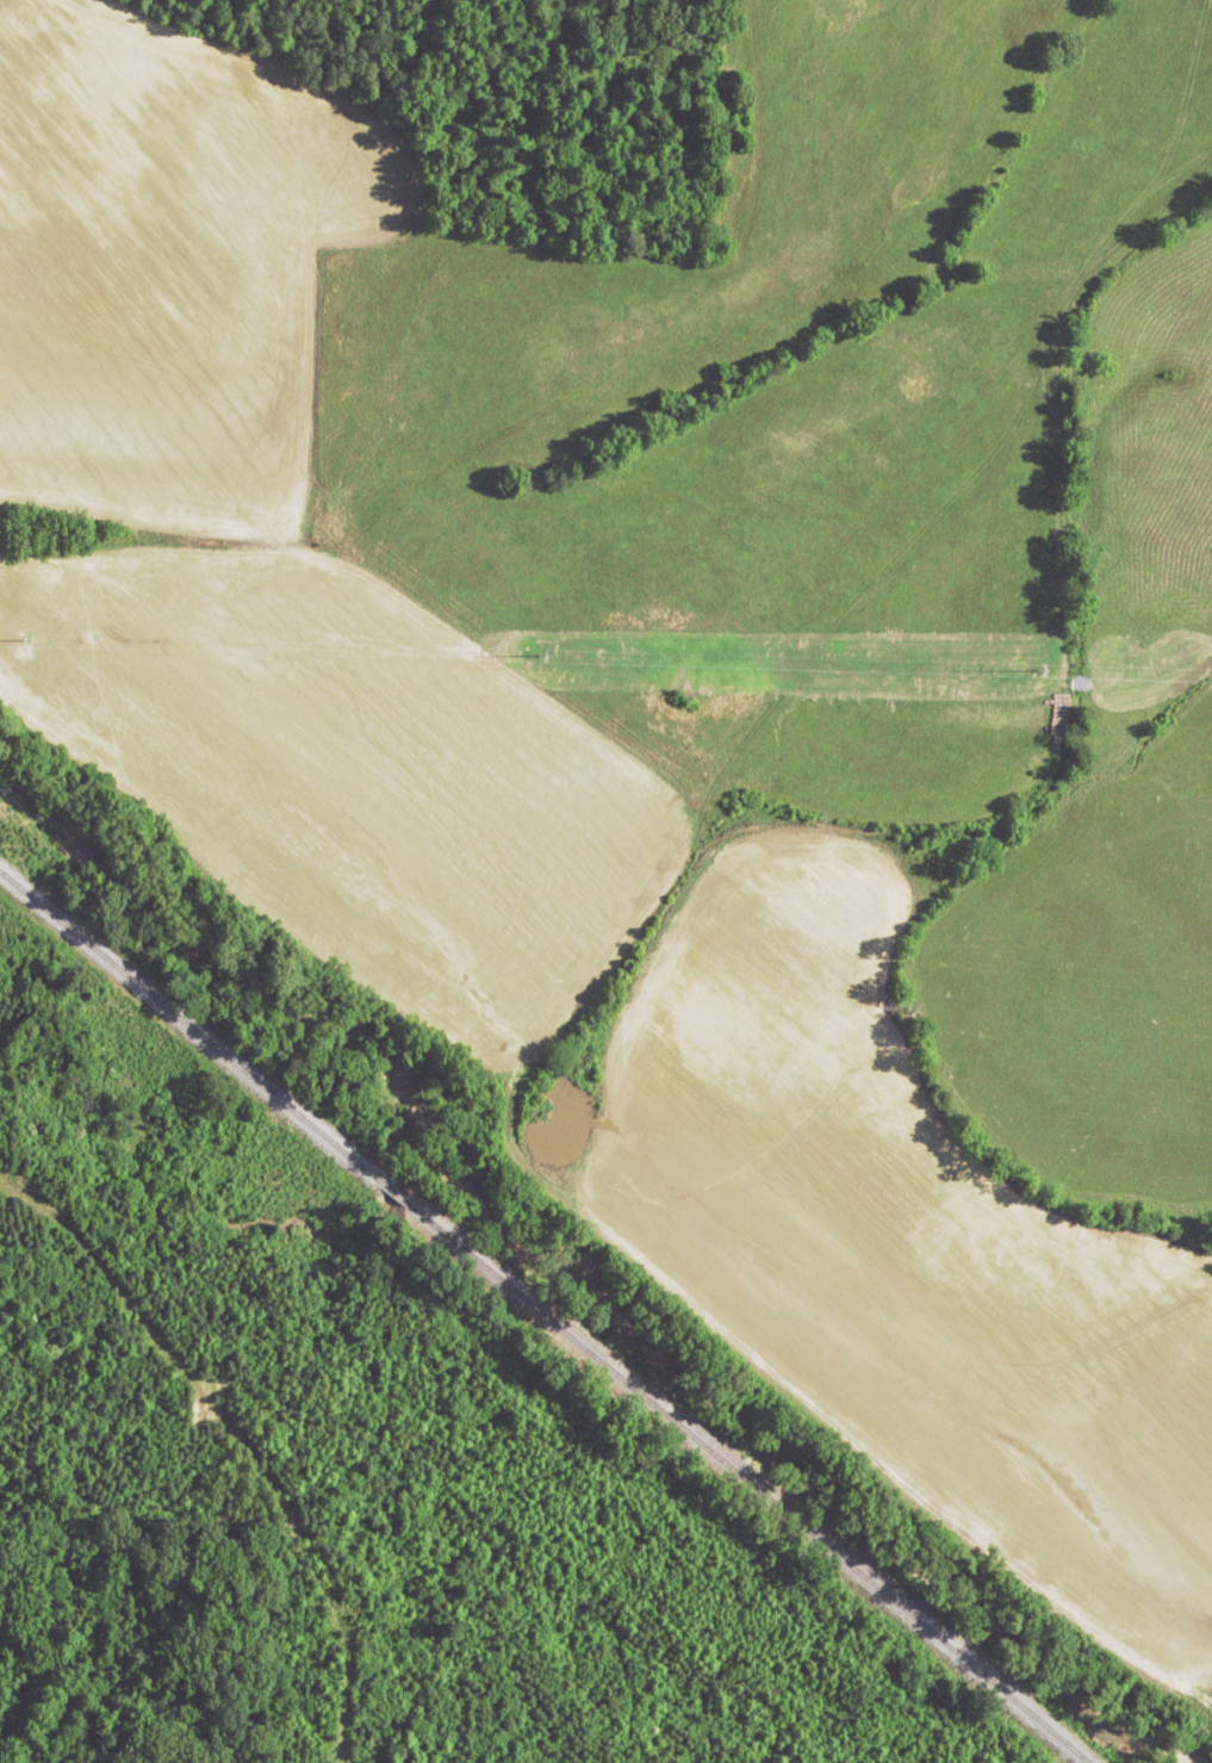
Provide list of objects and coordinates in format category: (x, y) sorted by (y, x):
railway: (547, 1312)

